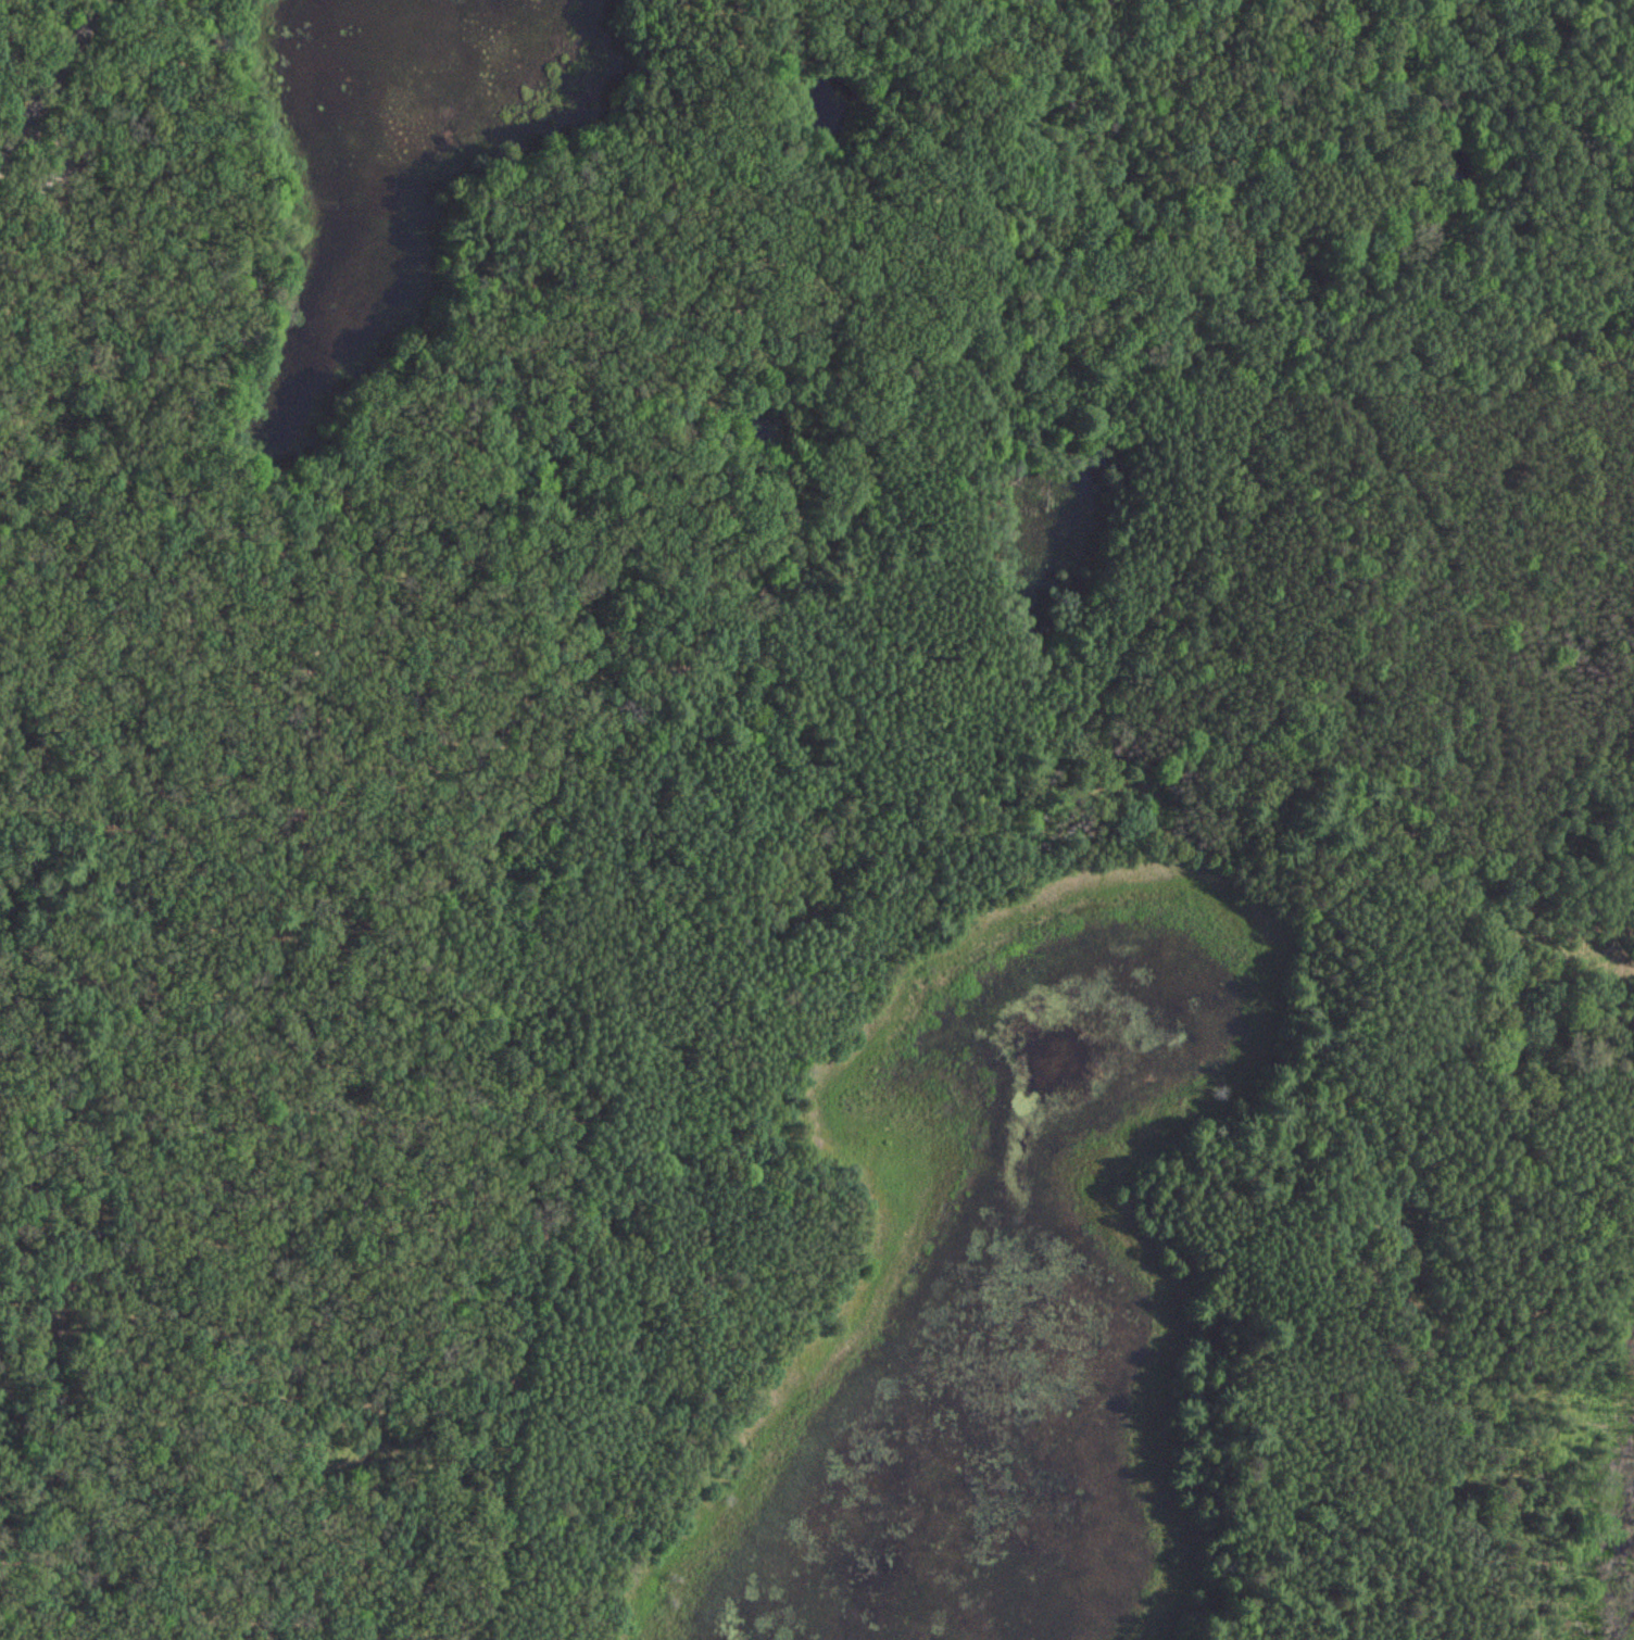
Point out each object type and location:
road: (49, 74)
road: (506, 759)

